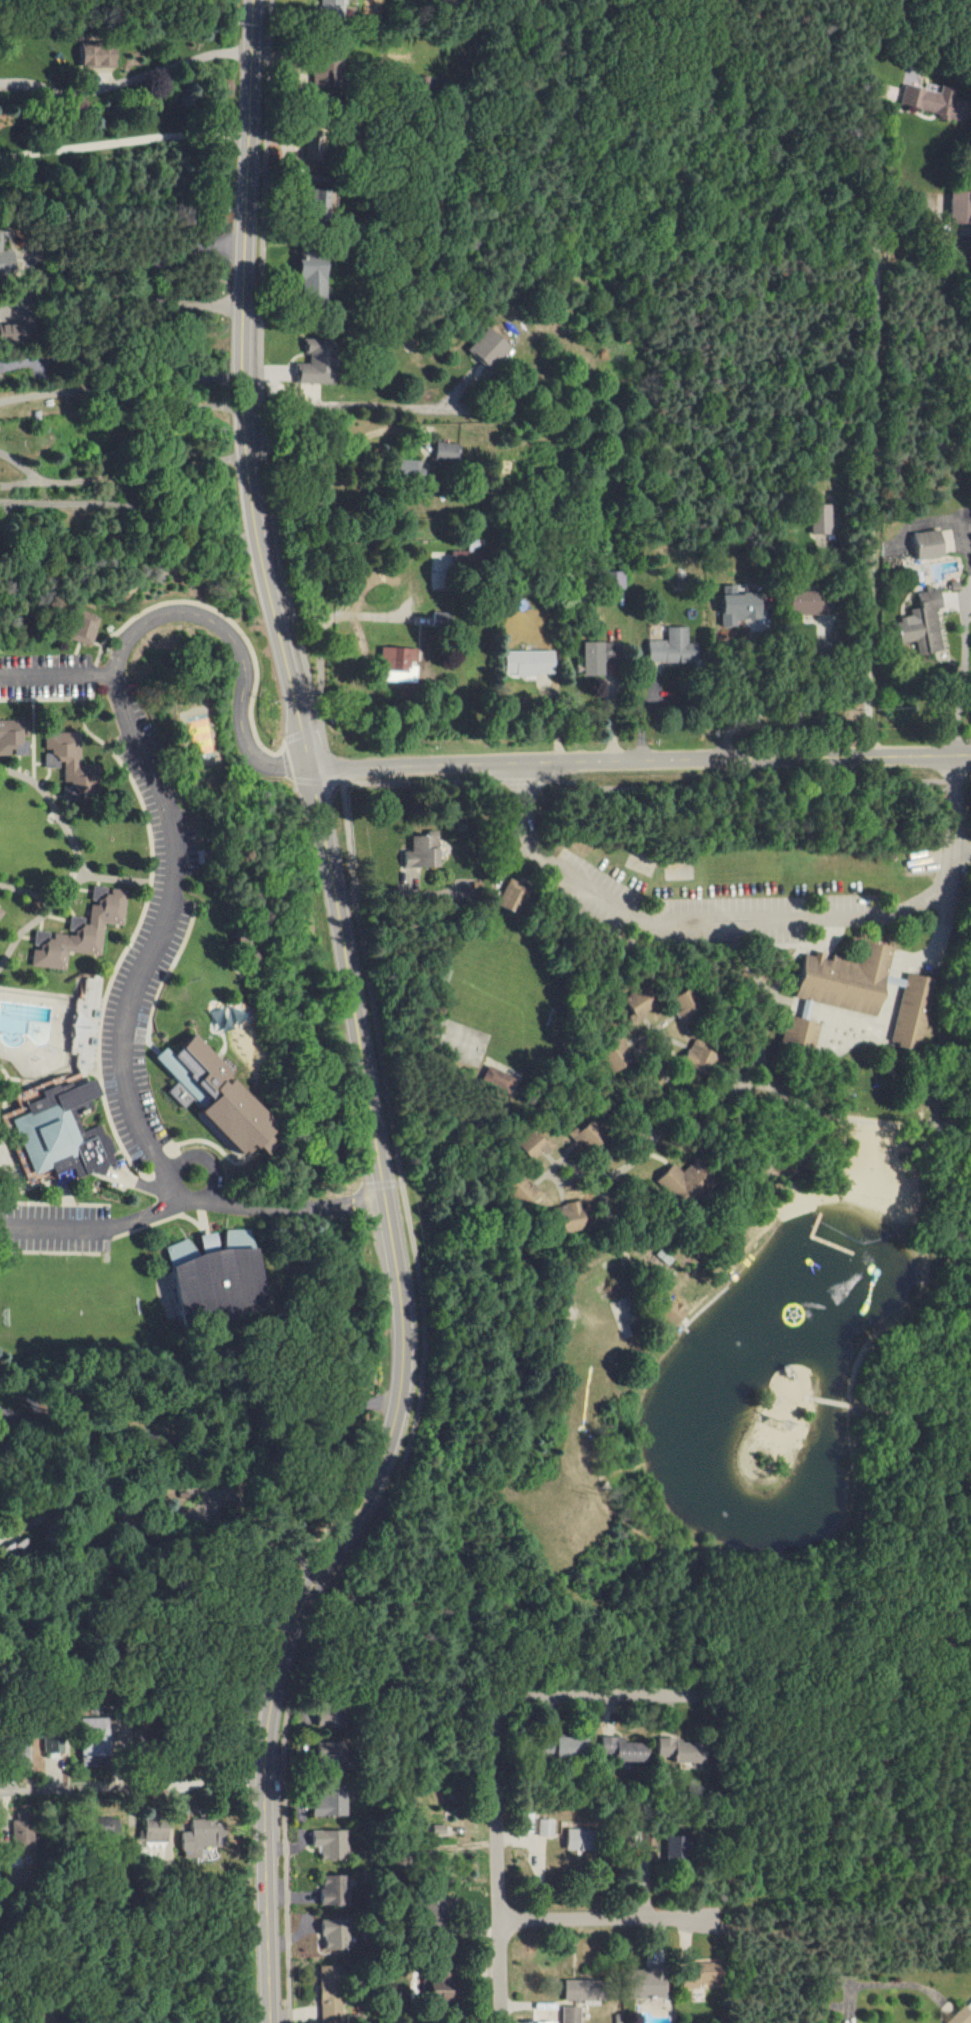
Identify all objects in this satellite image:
building: (330, 8)
building: (98, 55)
road: (137, 78)
building: (924, 99)
road: (127, 139)
building: (959, 207)
building: (6, 262)
road: (160, 265)
building: (313, 277)
road: (141, 299)
building: (6, 332)
building: (488, 347)
building: (316, 361)
road: (258, 384)
road: (124, 396)
road: (357, 402)
road: (875, 421)
building: (446, 451)
building: (408, 467)
road: (133, 474)
building: (817, 520)
building: (929, 544)
building: (464, 557)
building: (802, 602)
building: (440, 620)
building: (922, 623)
building: (80, 628)
road: (320, 629)
road: (95, 643)
building: (672, 647)
road: (76, 648)
building: (592, 658)
building: (528, 662)
building: (399, 664)
road: (818, 665)
road: (962, 675)
road: (56, 676)
parking lot: (43, 677)
road: (45, 699)
road: (750, 700)
building: (14, 737)
road: (303, 740)
road: (31, 741)
road: (15, 749)
road: (17, 756)
building: (69, 762)
road: (643, 762)
road: (40, 764)
road: (120, 765)
parking lot: (150, 770)
road: (337, 772)
road: (46, 775)
road: (969, 780)
road: (956, 781)
road: (151, 782)
road: (524, 782)
road: (417, 784)
road: (750, 788)
road: (68, 795)
road: (67, 798)
park: (24, 844)
building: (422, 851)
road: (78, 866)
road: (113, 879)
parking lot: (168, 886)
road: (89, 890)
road: (97, 893)
road: (28, 894)
building: (512, 895)
parking lot: (696, 911)
building: (0, 912)
road: (47, 917)
road: (757, 921)
road: (72, 925)
building: (80, 929)
road: (39, 941)
road: (165, 981)
road: (77, 989)
road: (38, 994)
road: (96, 994)
building: (855, 995)
road: (187, 999)
building: (638, 1006)
building: (685, 1006)
parking lot: (130, 1008)
road: (355, 1022)
building: (87, 1023)
building: (221, 1032)
building: (698, 1055)
road: (90, 1078)
road: (51, 1079)
building: (497, 1080)
road: (20, 1081)
road: (171, 1085)
road: (101, 1086)
parking lot: (135, 1113)
building: (241, 1116)
road: (1, 1126)
building: (65, 1132)
building: (586, 1137)
road: (186, 1144)
building: (534, 1145)
road: (208, 1163)
road: (18, 1167)
road: (67, 1175)
building: (683, 1179)
building: (522, 1191)
road: (55, 1205)
road: (300, 1209)
building: (570, 1217)
road: (205, 1221)
road: (164, 1222)
parking lot: (55, 1231)
building: (219, 1277)
building: (673, 1314)
road: (419, 1415)
road: (207, 1441)
road: (165, 1513)
road: (136, 1677)
road: (599, 1696)
building: (54, 1736)
building: (98, 1742)
building: (567, 1747)
building: (621, 1749)
building: (324, 1750)
building: (676, 1750)
building: (17, 1752)
building: (190, 1761)
road: (132, 1786)
building: (318, 1806)
building: (544, 1827)
building: (154, 1828)
building: (99, 1832)
building: (26, 1833)
building: (201, 1836)
building: (577, 1839)
building: (328, 1843)
building: (672, 1848)
road: (500, 1864)
building: (20, 1878)
building: (333, 1890)
road: (605, 1920)
building: (334, 1932)
road: (806, 1947)
building: (701, 1975)
building: (648, 1983)
building: (443, 1987)
building: (583, 1989)
building: (329, 1995)
building: (571, 2014)
building: (963, 2015)

